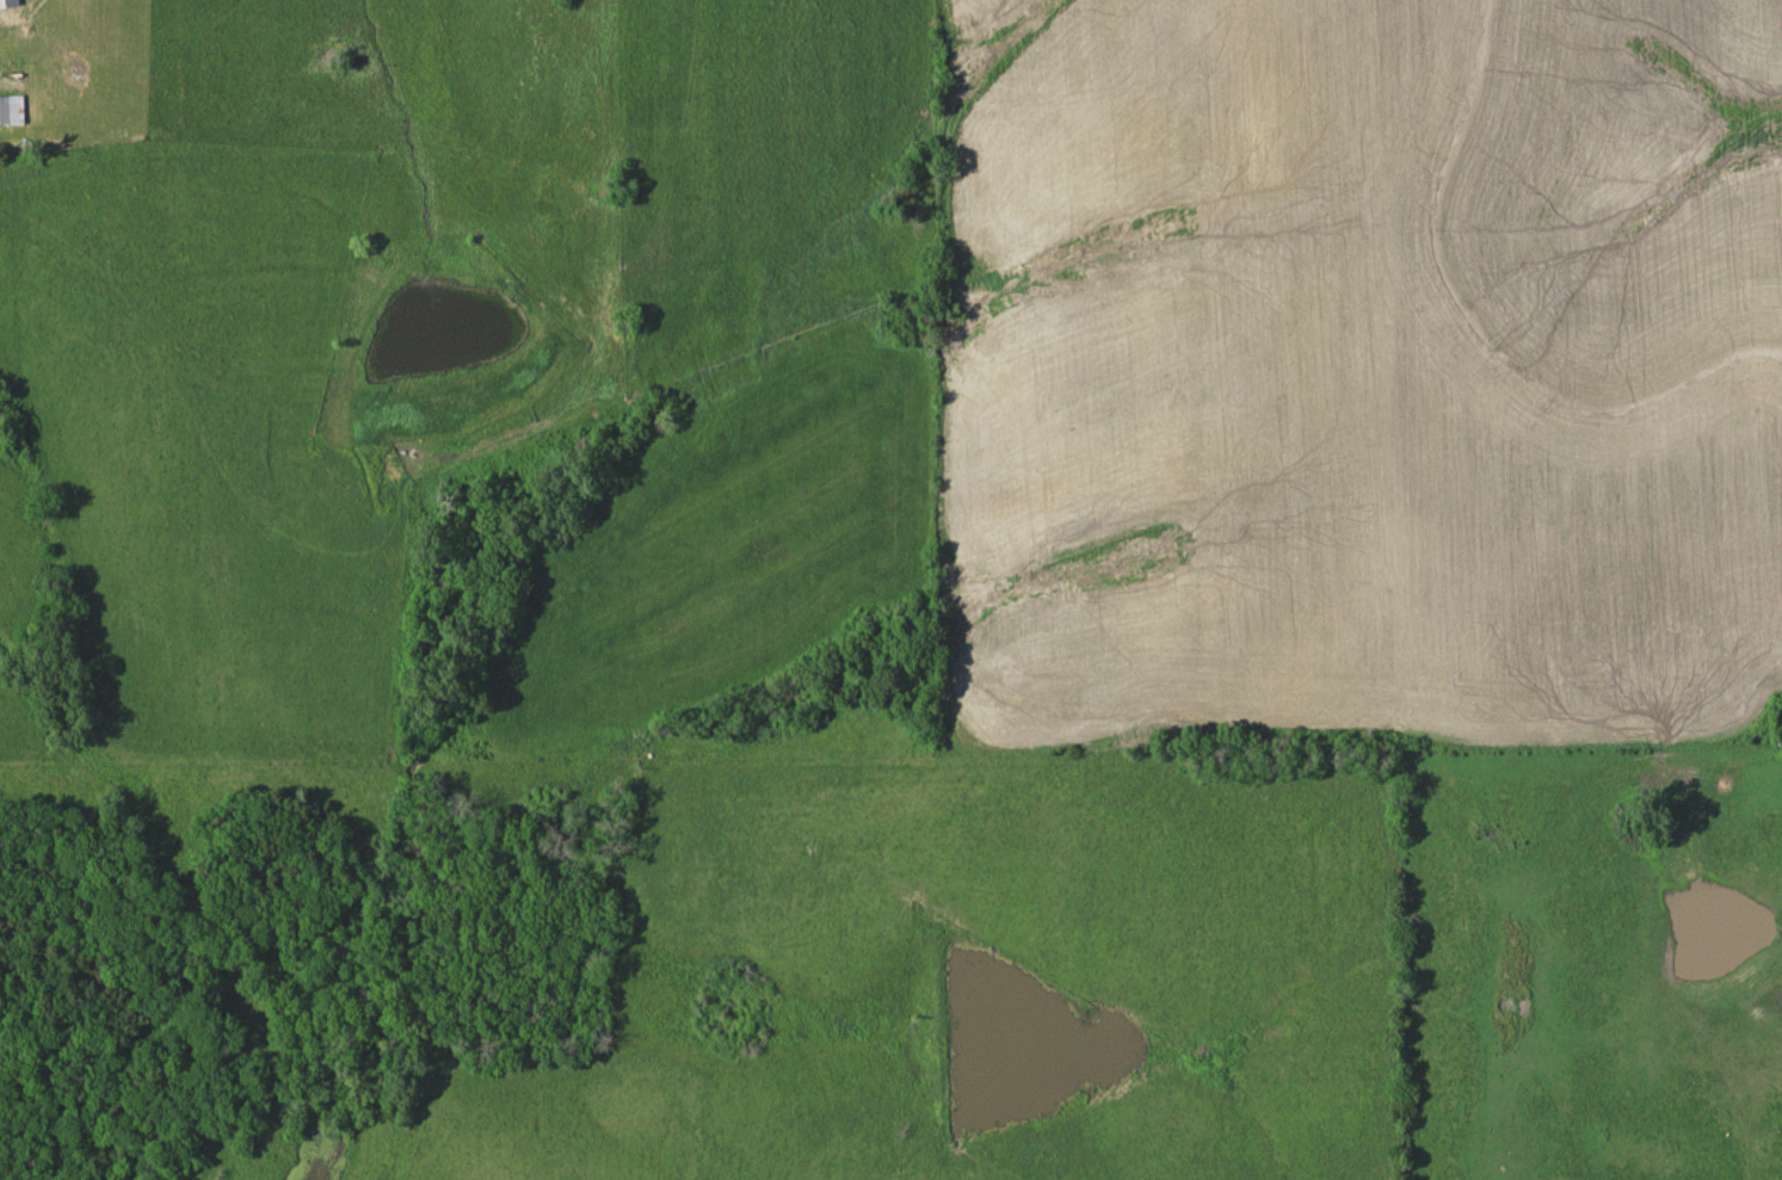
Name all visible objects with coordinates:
building: (12, 111)

